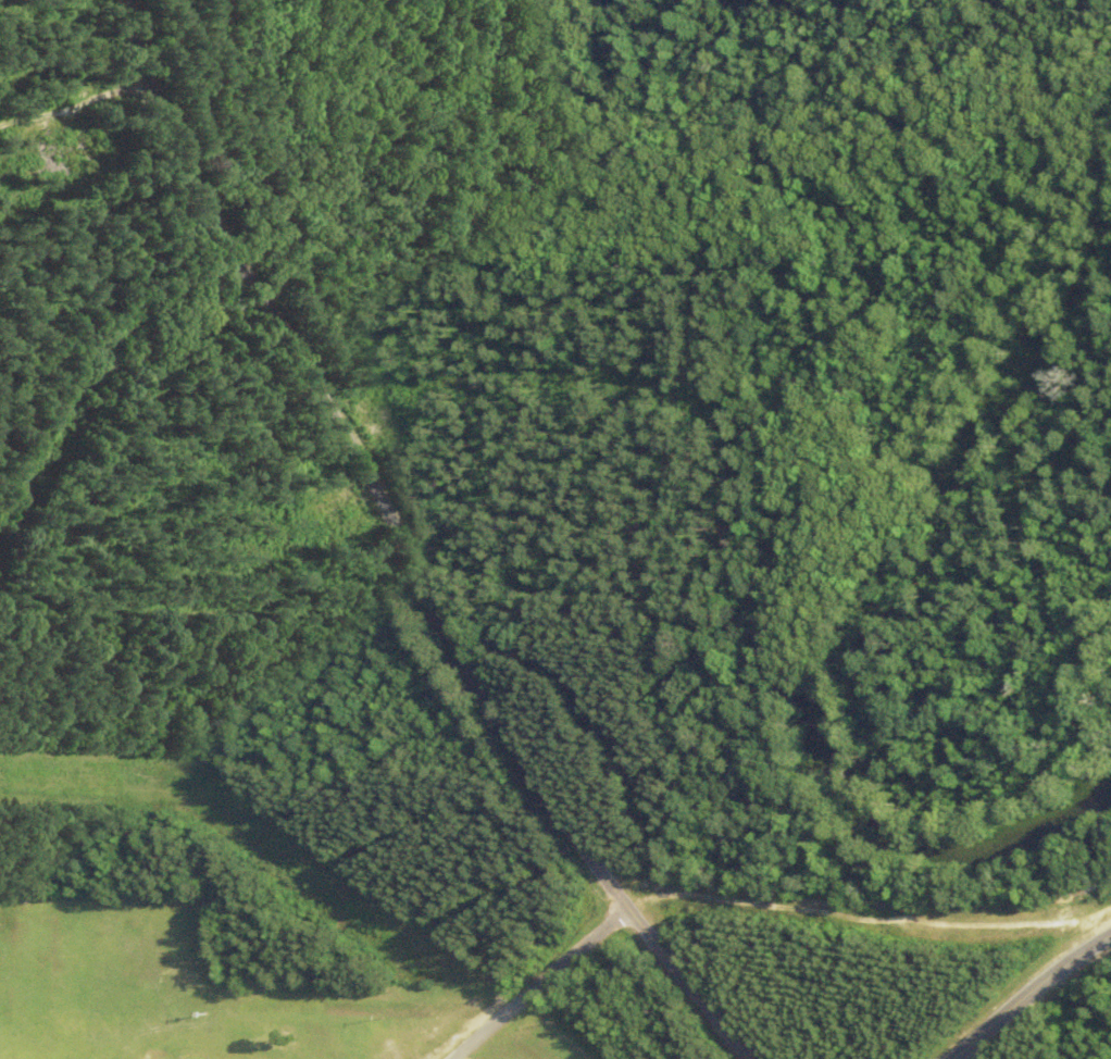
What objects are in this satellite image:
road: (360, 464)
road: (871, 918)
road: (538, 981)
road: (688, 984)
road: (1026, 991)

